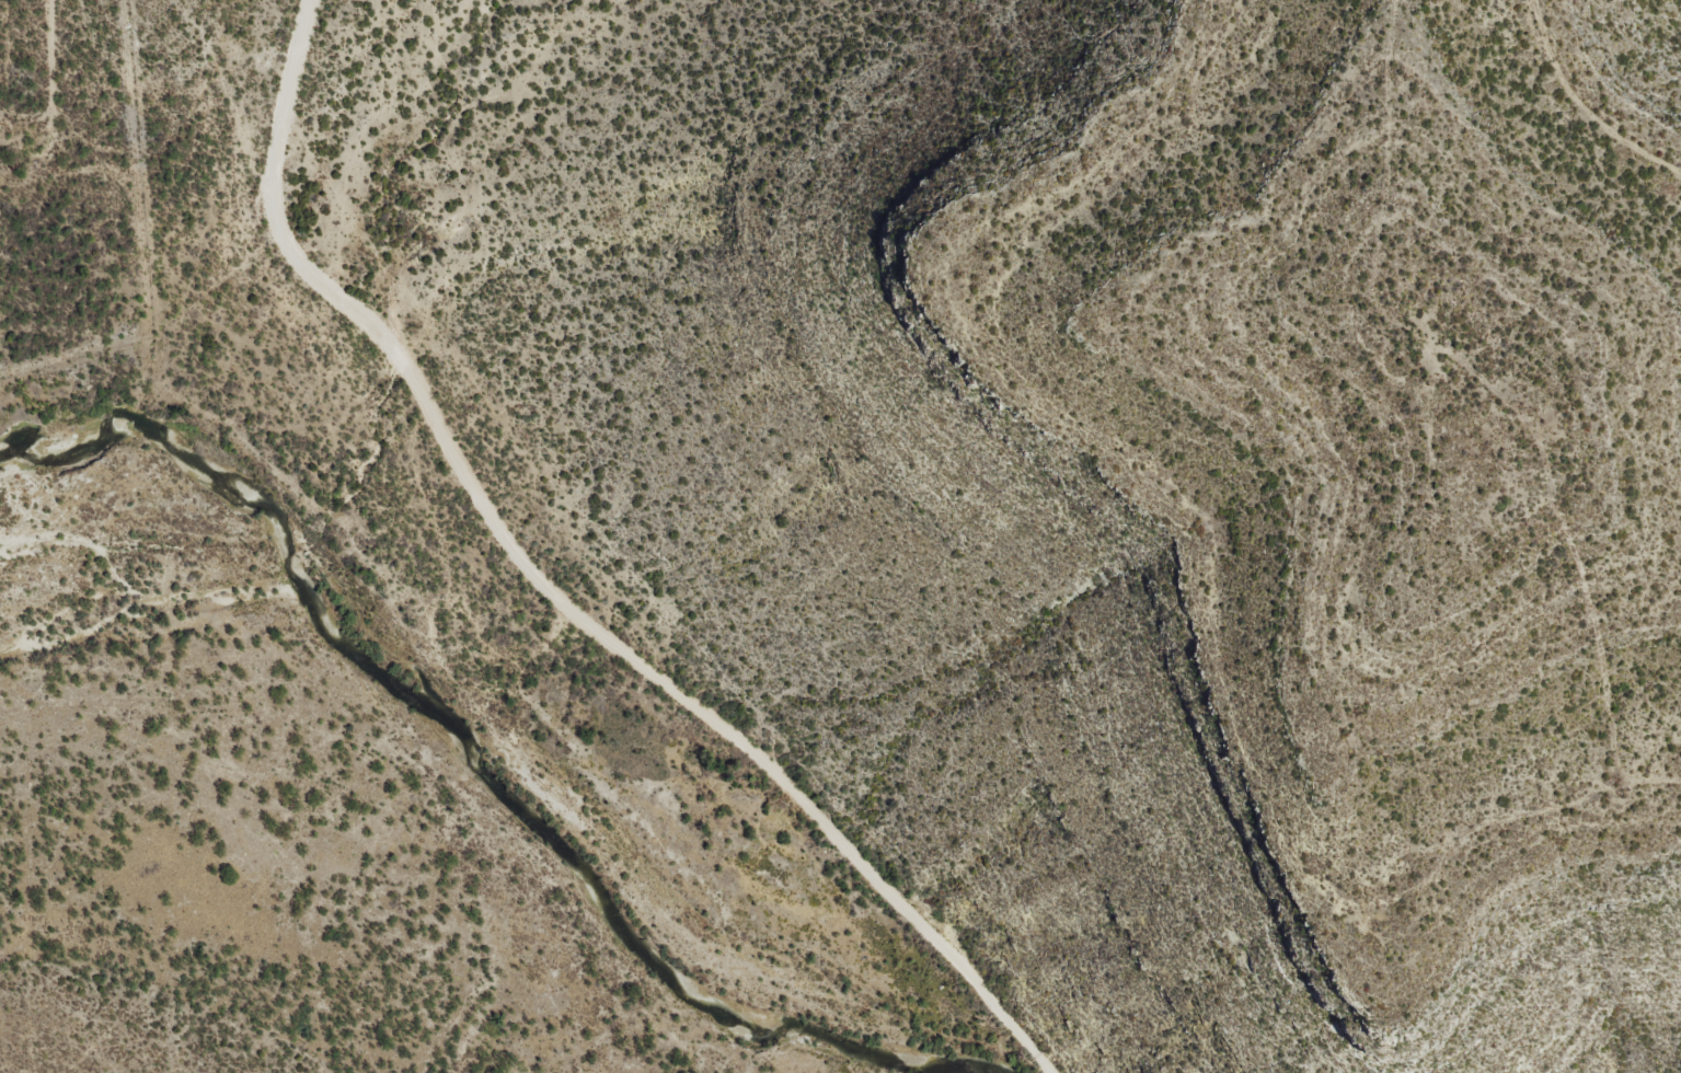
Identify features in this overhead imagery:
road: (551, 593)
river: (445, 741)

